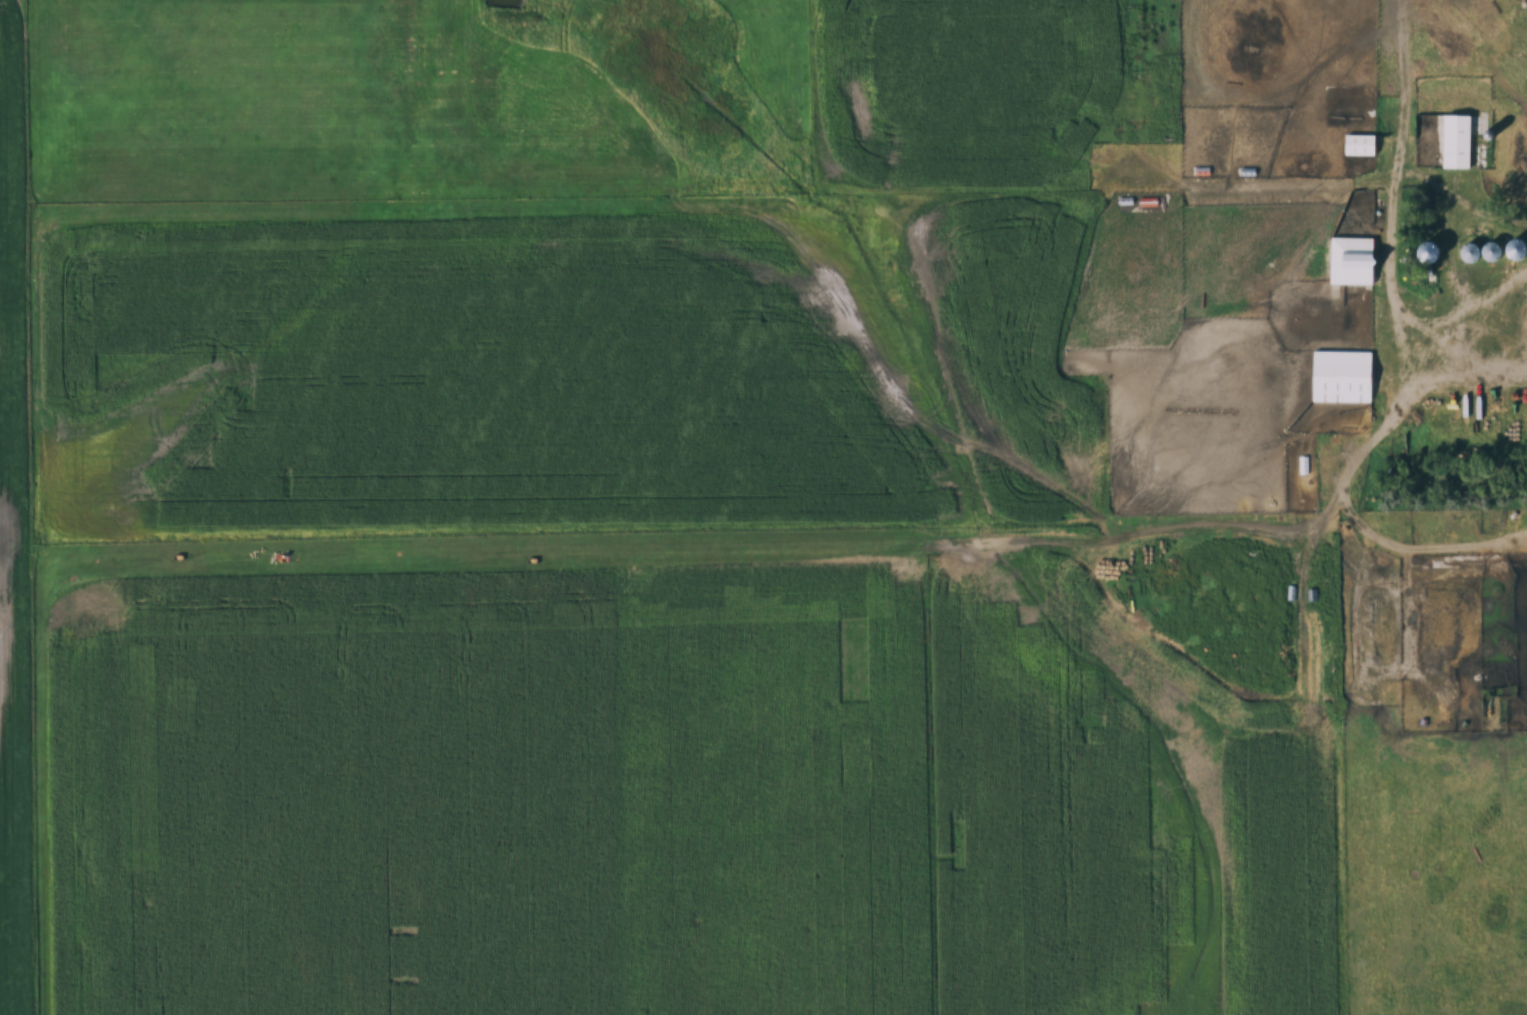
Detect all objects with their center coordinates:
building: (1458, 141)
building: (1361, 145)
building: (1518, 248)
building: (1433, 251)
building: (1493, 251)
building: (1473, 252)
building: (1354, 260)
building: (1343, 376)

